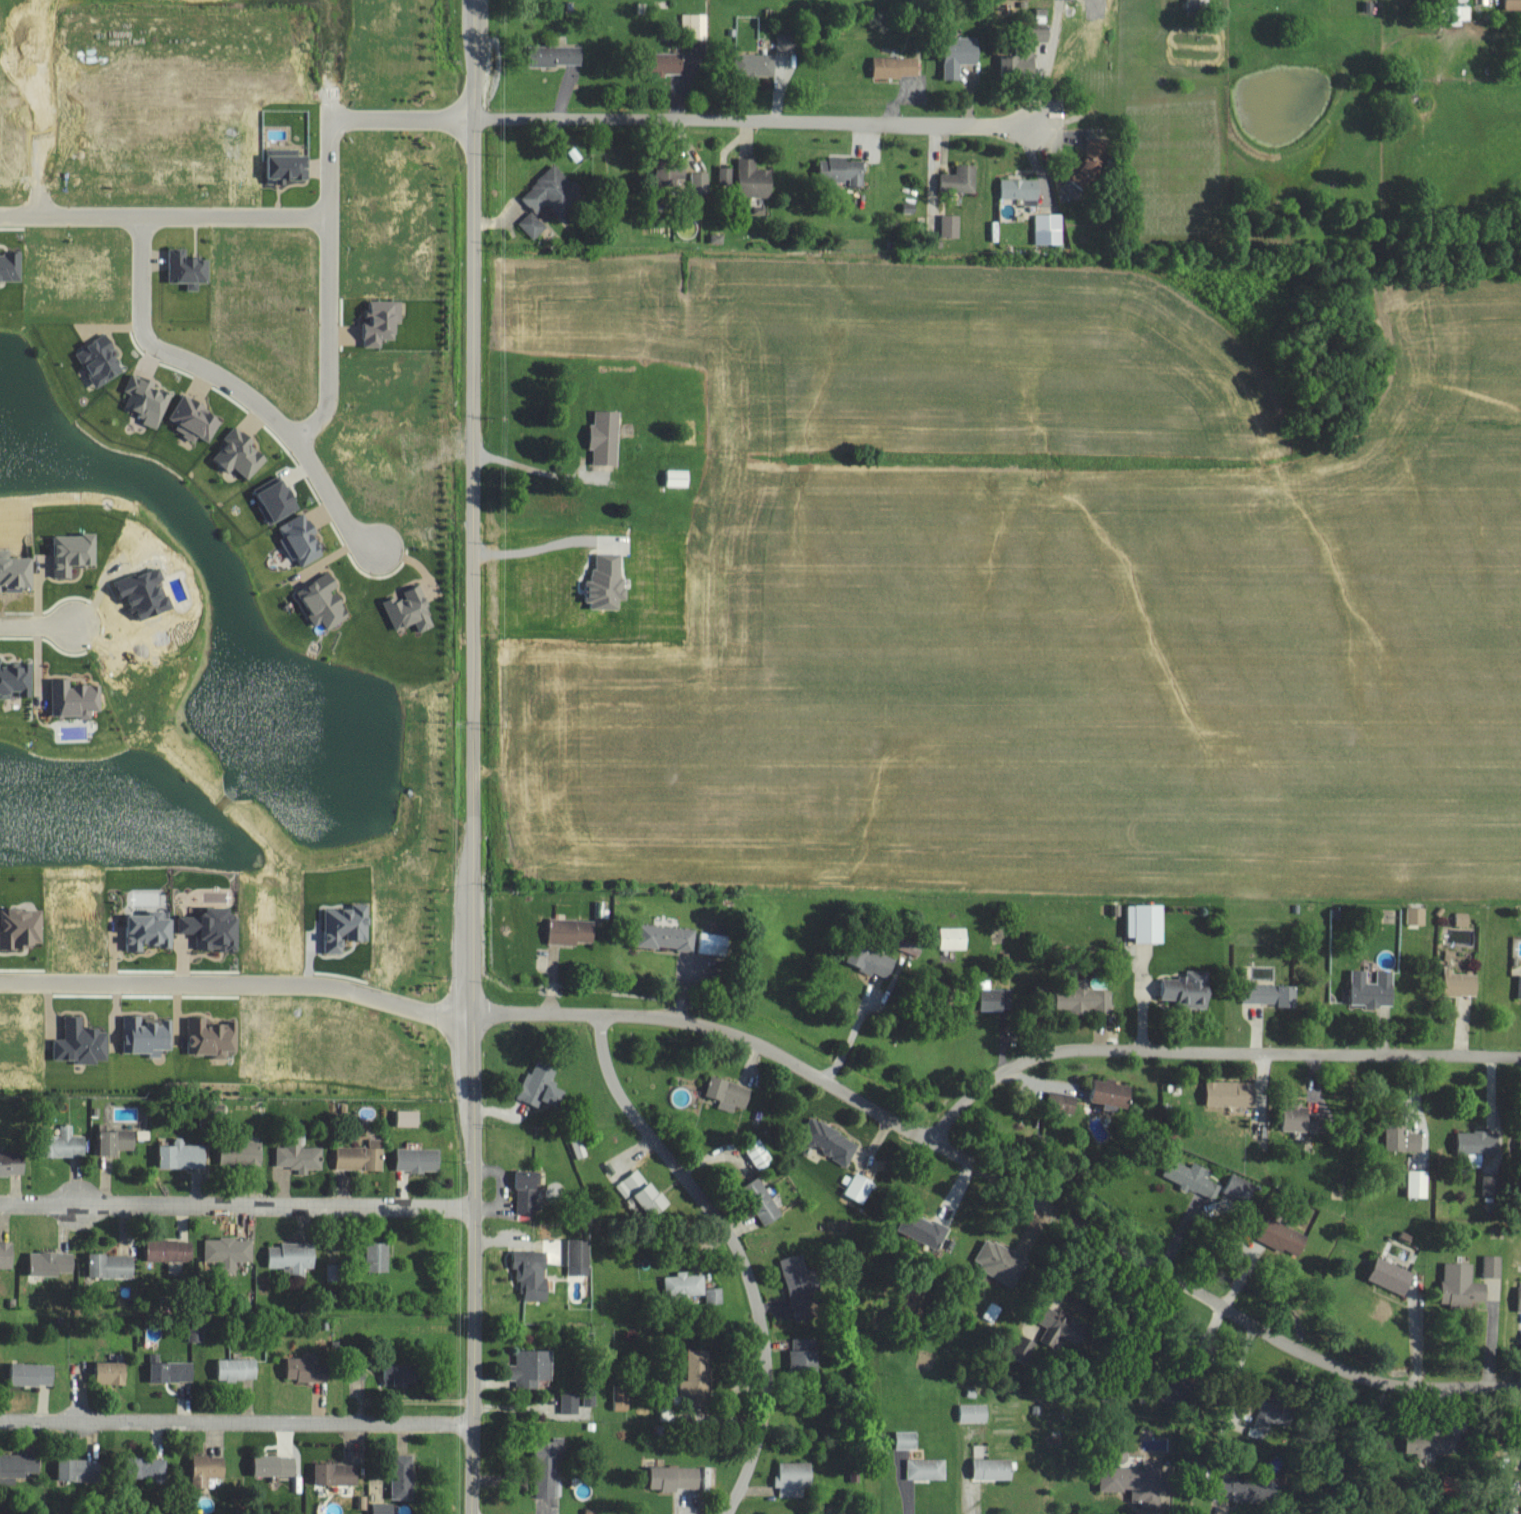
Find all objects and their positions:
building: (1200, 3)
building: (1513, 4)
building: (697, 26)
building: (1043, 34)
building: (961, 53)
building: (557, 55)
building: (669, 63)
building: (757, 64)
building: (1020, 65)
building: (897, 67)
road: (682, 121)
building: (1095, 159)
building: (288, 168)
building: (844, 170)
building: (589, 171)
building: (671, 174)
building: (728, 176)
building: (755, 179)
building: (962, 180)
building: (702, 182)
building: (1022, 189)
building: (556, 195)
road: (163, 217)
building: (534, 225)
building: (952, 226)
building: (1050, 229)
building: (11, 265)
building: (188, 269)
road: (328, 288)
building: (383, 322)
building: (102, 361)
road: (234, 389)
building: (148, 400)
building: (196, 420)
building: (607, 437)
building: (242, 454)
road: (537, 476)
building: (680, 478)
building: (279, 502)
building: (302, 540)
road: (545, 547)
building: (74, 553)
building: (607, 584)
building: (325, 602)
building: (411, 610)
road: (39, 626)
building: (16, 679)
building: (76, 699)
road: (472, 757)
building: (1418, 915)
building: (1464, 918)
building: (1148, 922)
building: (346, 927)
building: (24, 928)
building: (215, 930)
building: (152, 931)
building: (574, 931)
building: (668, 937)
building: (956, 937)
building: (716, 943)
building: (911, 944)
building: (873, 960)
building: (1463, 982)
building: (1191, 988)
building: (1374, 988)
road: (299, 990)
building: (1271, 994)
building: (997, 998)
building: (1085, 998)
building: (150, 1035)
building: (214, 1036)
road: (851, 1037)
building: (84, 1042)
road: (1209, 1050)
building: (543, 1086)
building: (731, 1093)
building: (1114, 1093)
building: (1233, 1093)
building: (1064, 1102)
building: (410, 1118)
building: (1302, 1118)
building: (1404, 1139)
building: (118, 1141)
building: (832, 1141)
building: (1480, 1142)
building: (65, 1143)
building: (243, 1153)
building: (301, 1155)
building: (184, 1156)
building: (362, 1156)
building: (419, 1159)
building: (13, 1162)
building: (1193, 1178)
building: (1420, 1183)
building: (1493, 1185)
building: (861, 1188)
building: (1242, 1188)
building: (528, 1192)
building: (647, 1192)
building: (764, 1200)
road: (236, 1204)
road: (1055, 1211)
building: (926, 1229)
building: (1286, 1237)
road: (735, 1248)
building: (172, 1250)
building: (230, 1251)
building: (7, 1254)
building: (295, 1256)
building: (380, 1256)
building: (581, 1256)
building: (1003, 1261)
building: (54, 1263)
building: (113, 1265)
building: (1495, 1265)
building: (533, 1273)
building: (1394, 1275)
building: (688, 1284)
building: (1465, 1284)
building: (803, 1287)
building: (716, 1296)
building: (1520, 1308)
building: (1063, 1328)
building: (198, 1334)
building: (806, 1353)
building: (534, 1367)
building: (239, 1369)
building: (308, 1369)
building: (173, 1371)
building: (113, 1372)
building: (361, 1372)
building: (700, 1373)
building: (34, 1374)
building: (402, 1374)
building: (591, 1397)
building: (623, 1397)
building: (571, 1403)
building: (976, 1412)
road: (235, 1421)
building: (908, 1440)
building: (1433, 1442)
building: (20, 1464)
building: (277, 1465)
building: (147, 1468)
building: (81, 1469)
building: (209, 1469)
building: (928, 1469)
building: (995, 1469)
building: (548, 1470)
building: (338, 1473)
building: (404, 1476)
building: (680, 1477)
building: (795, 1478)
building: (1141, 1482)
building: (1239, 1489)
building: (384, 1508)

